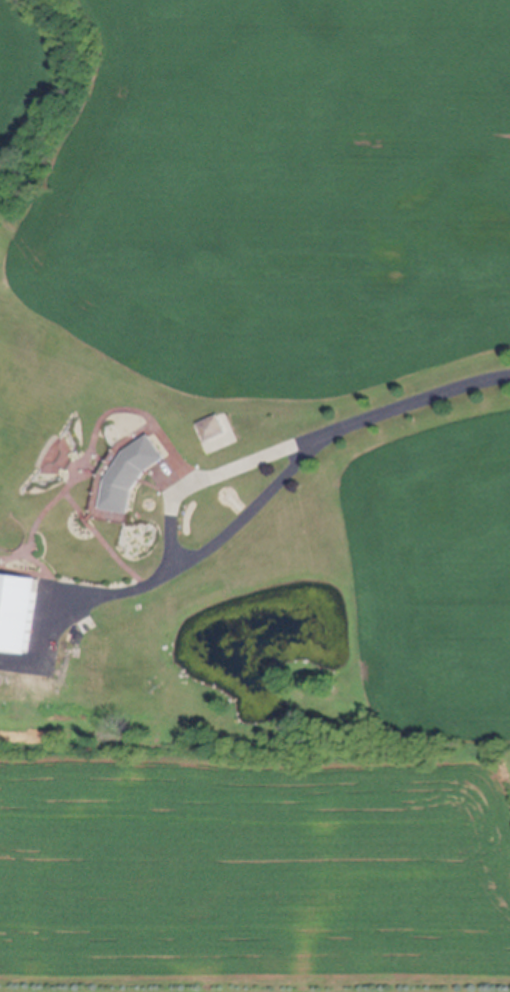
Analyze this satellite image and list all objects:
road: (425, 399)
building: (216, 429)
building: (134, 475)
road: (173, 542)
building: (18, 614)
building: (84, 653)

